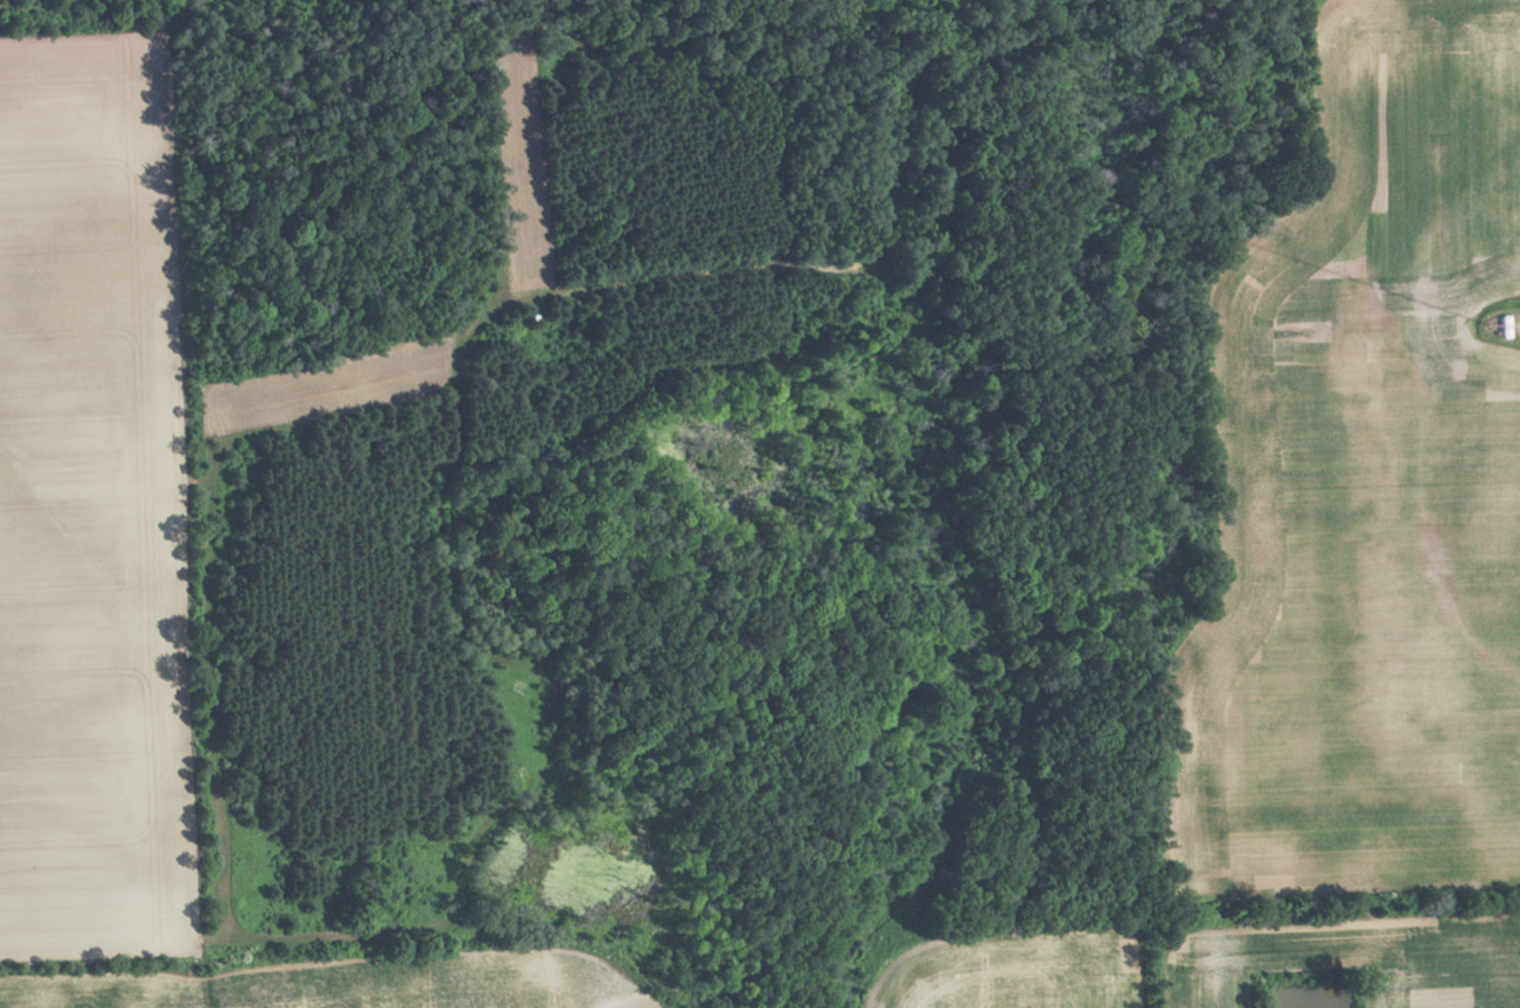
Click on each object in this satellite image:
building: (1504, 326)

